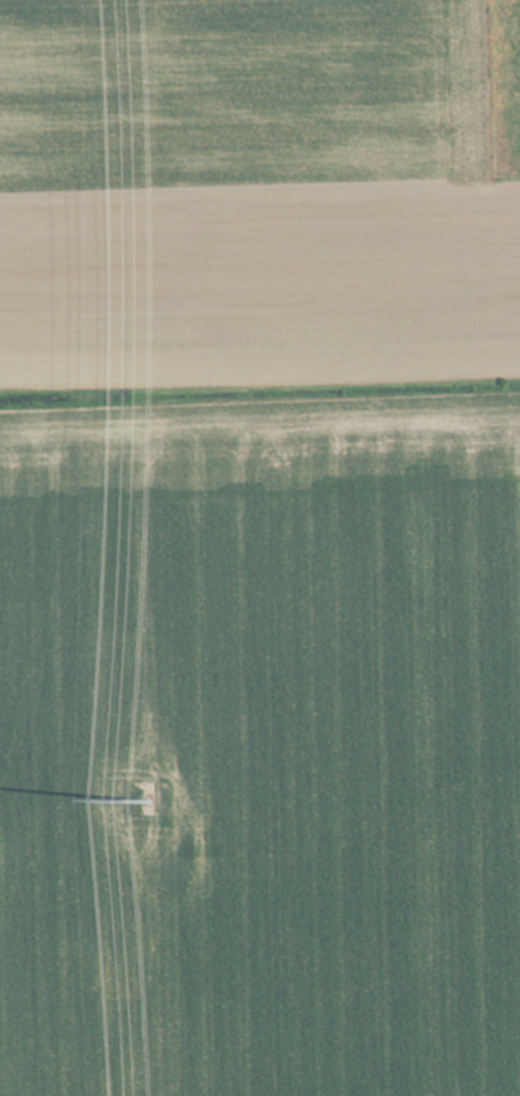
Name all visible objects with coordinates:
power tower: (156, 797)

